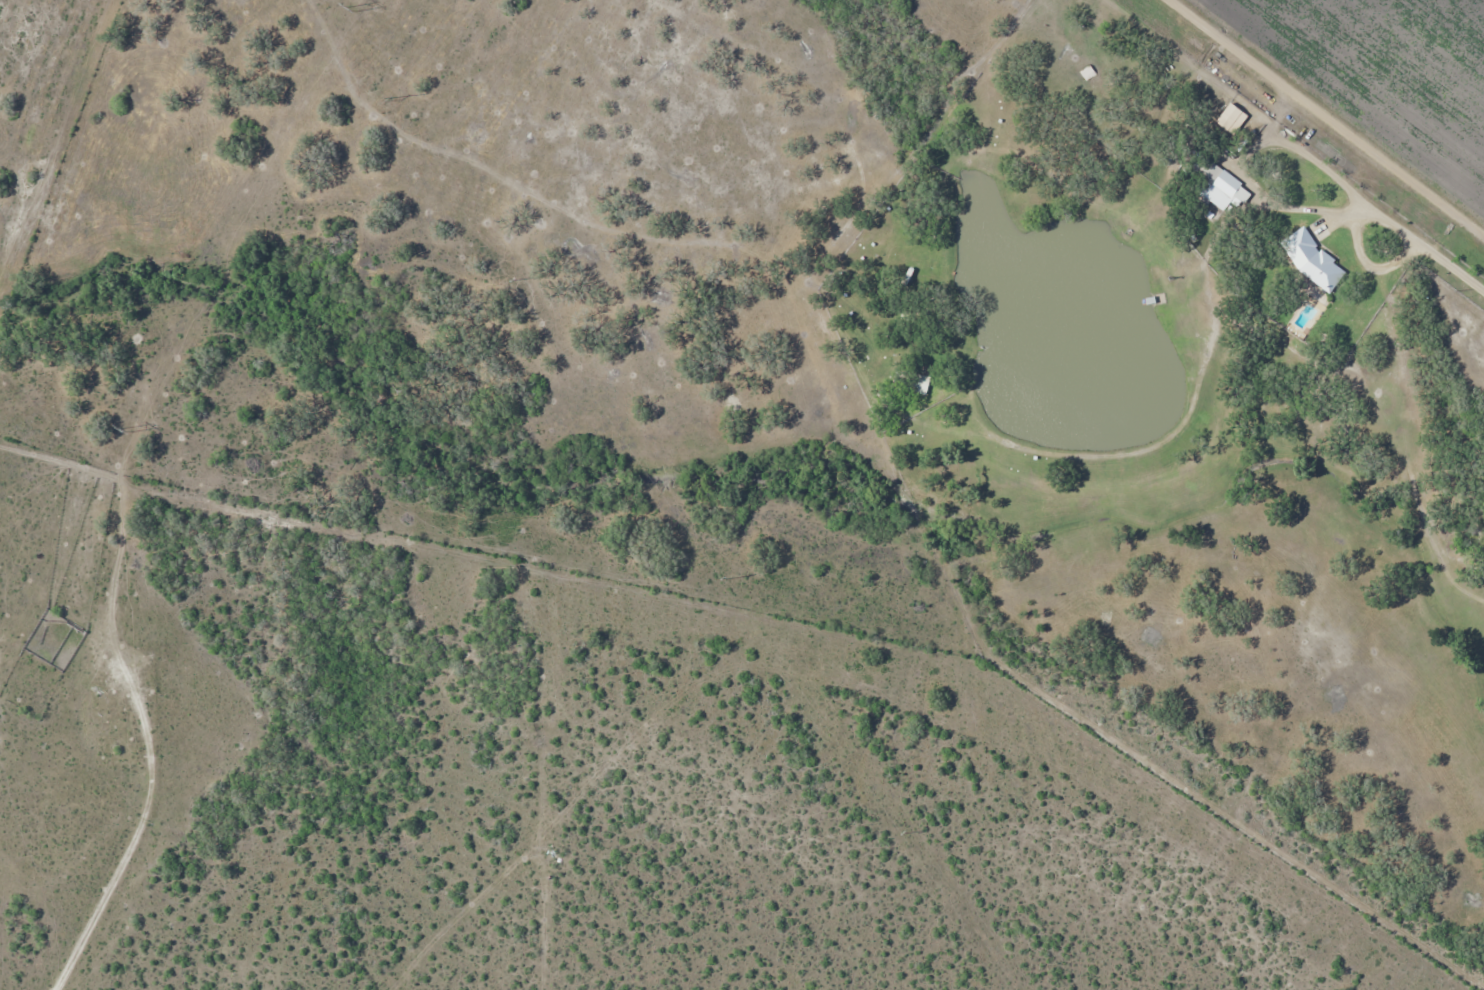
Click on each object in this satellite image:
power tower: (350, 9)
road: (1321, 124)
building: (1218, 187)
building: (1312, 260)
power tower: (124, 431)

